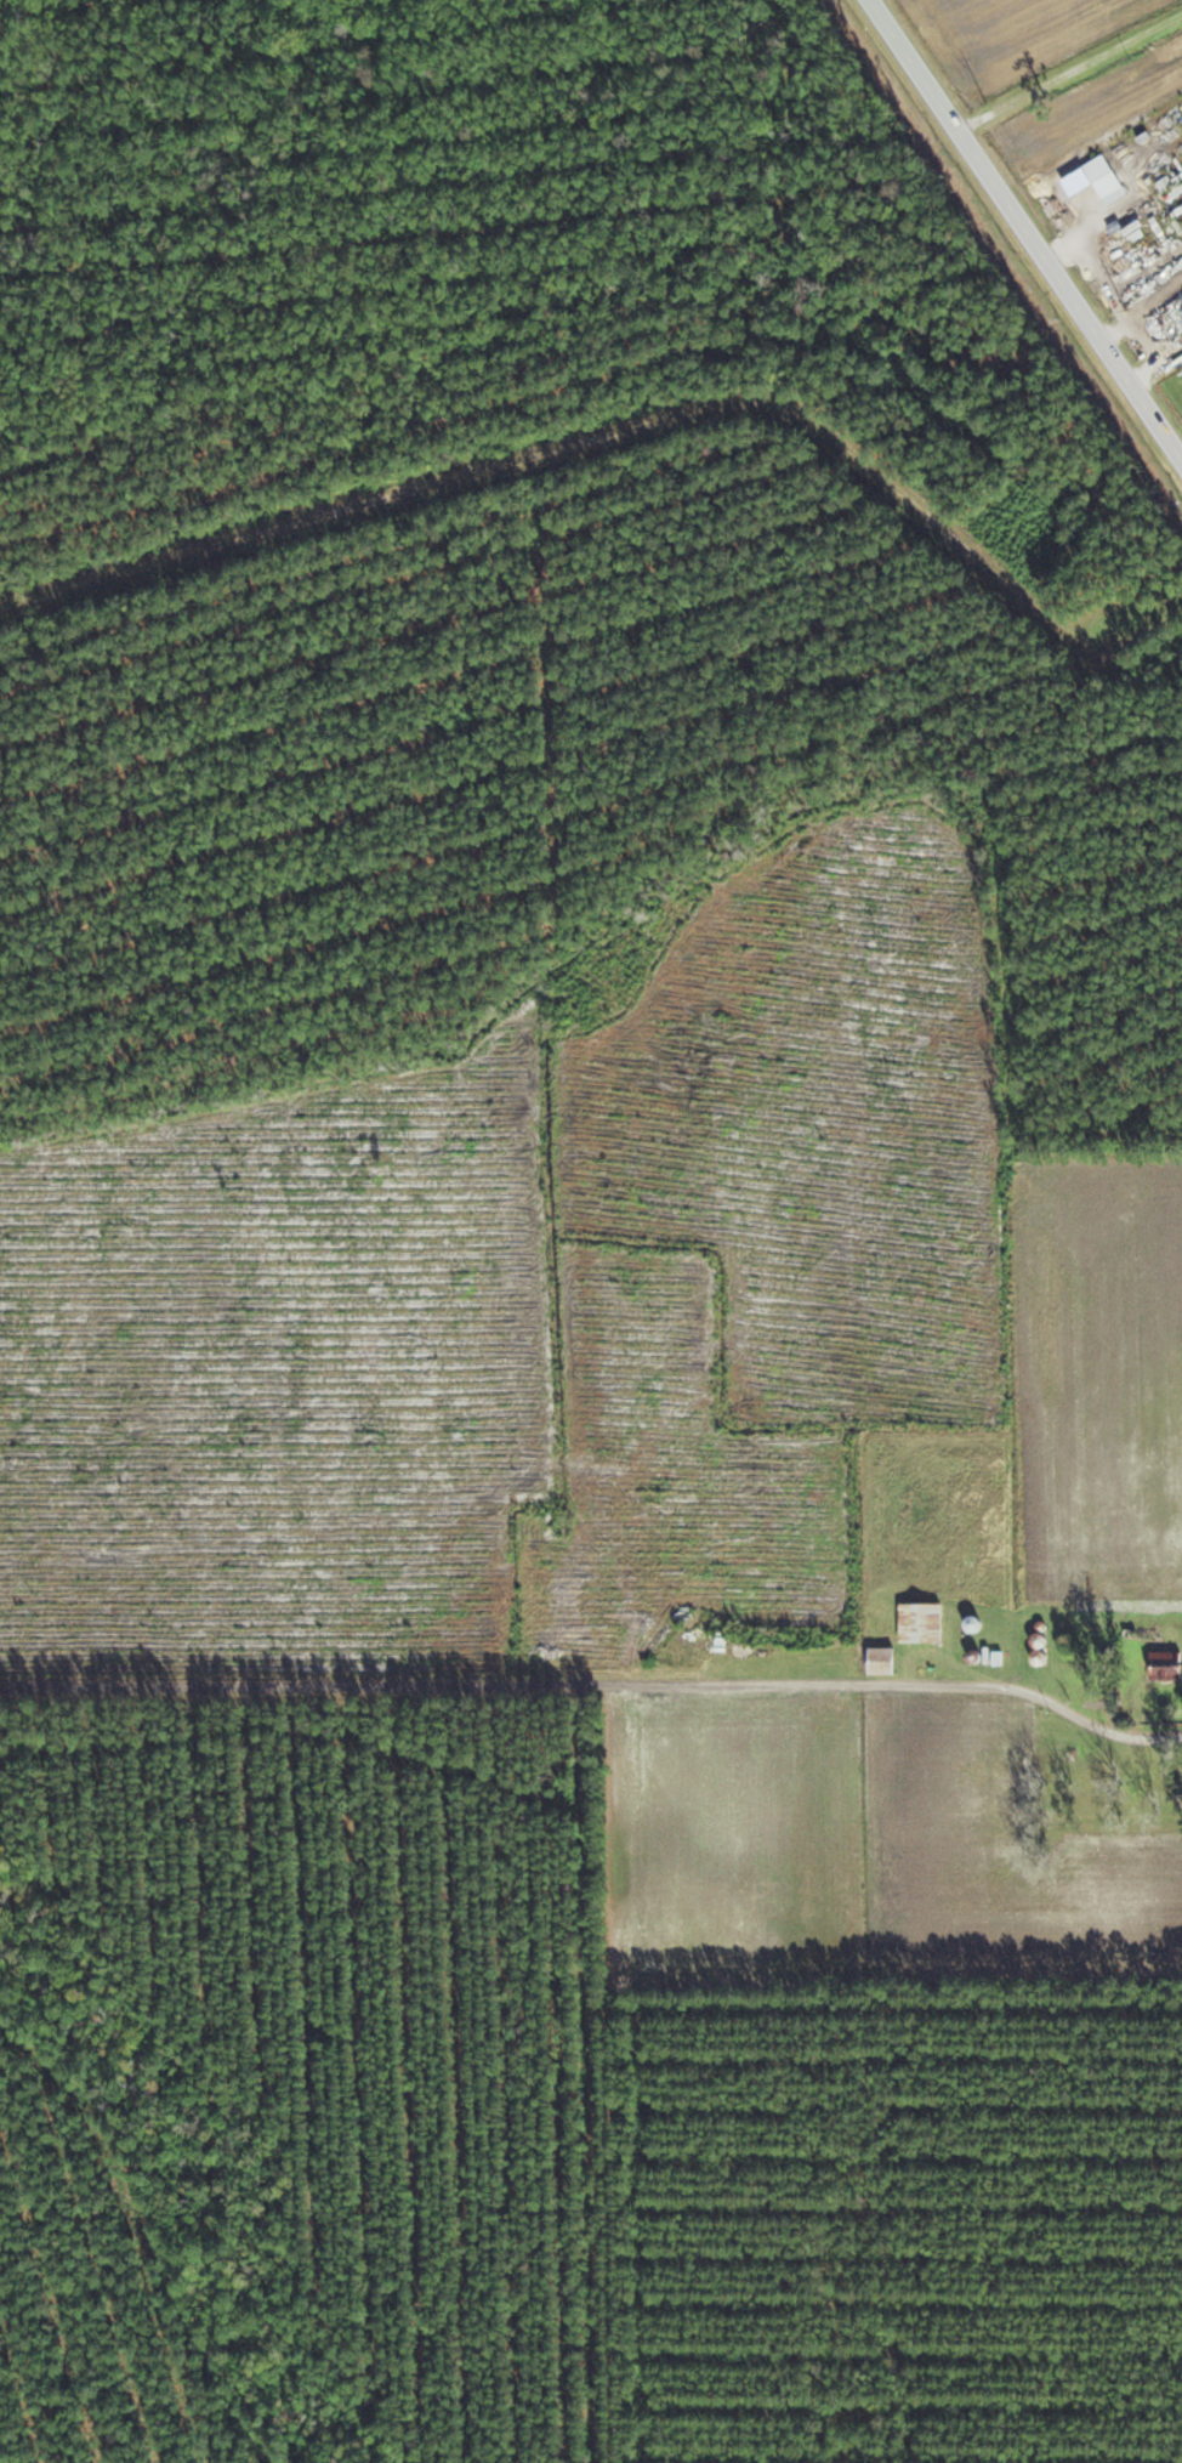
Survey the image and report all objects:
road: (1028, 225)
building: (927, 1623)
building: (1167, 1667)

